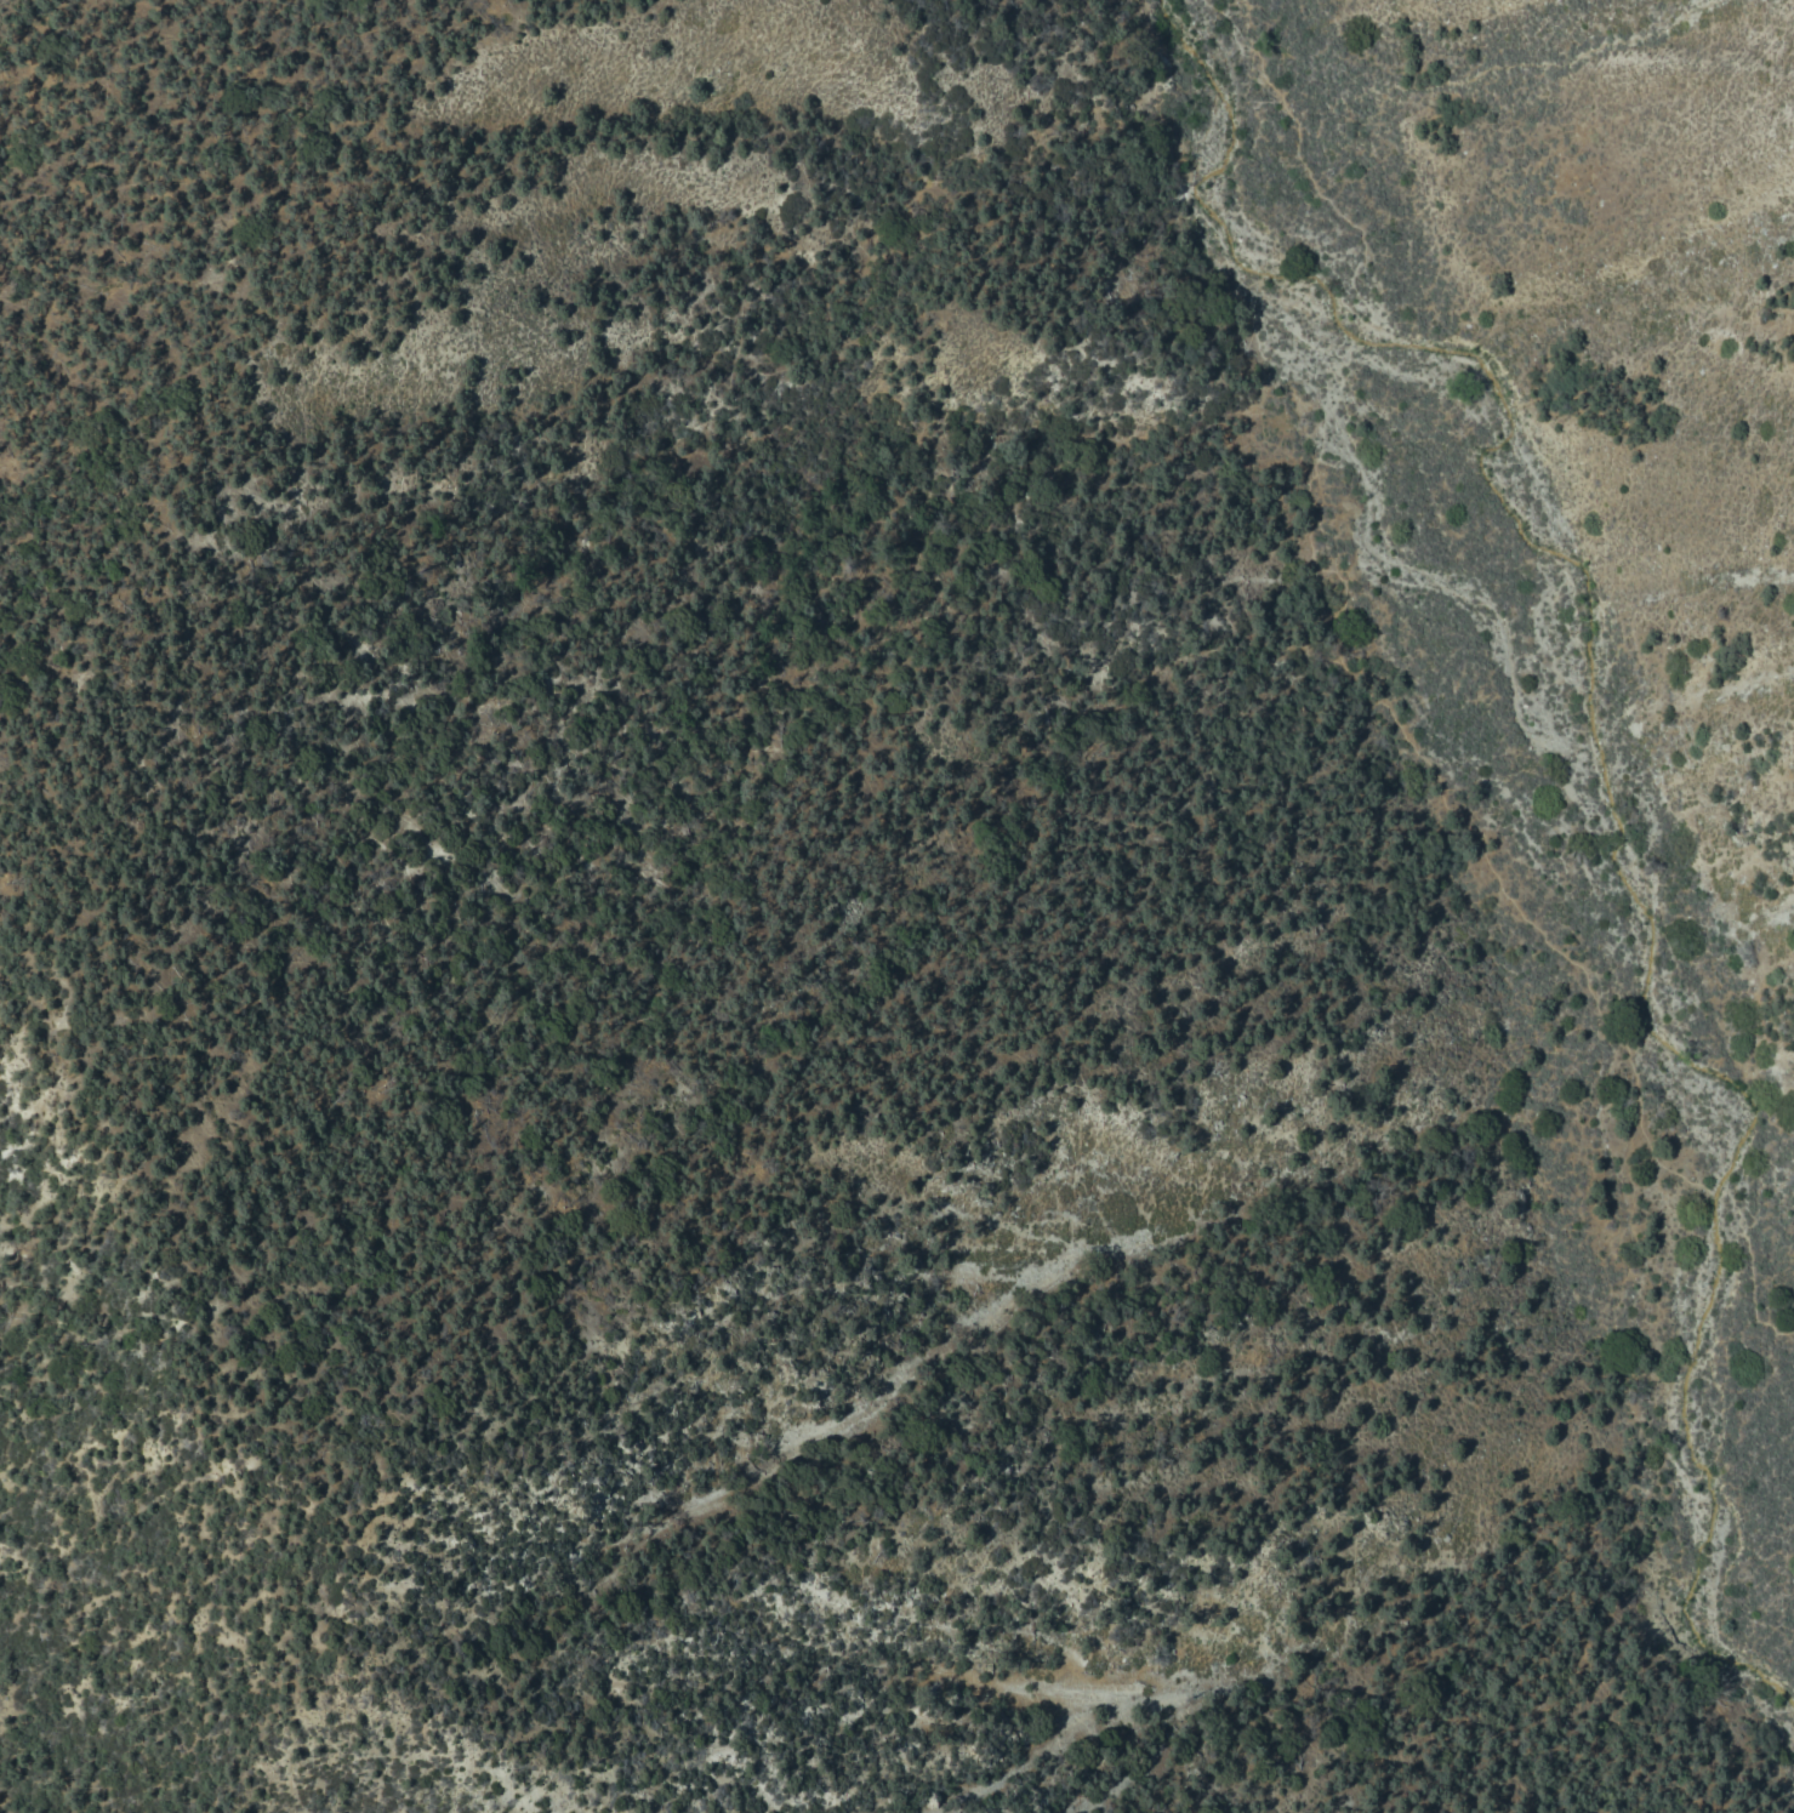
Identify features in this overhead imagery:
road: (1622, 554)

